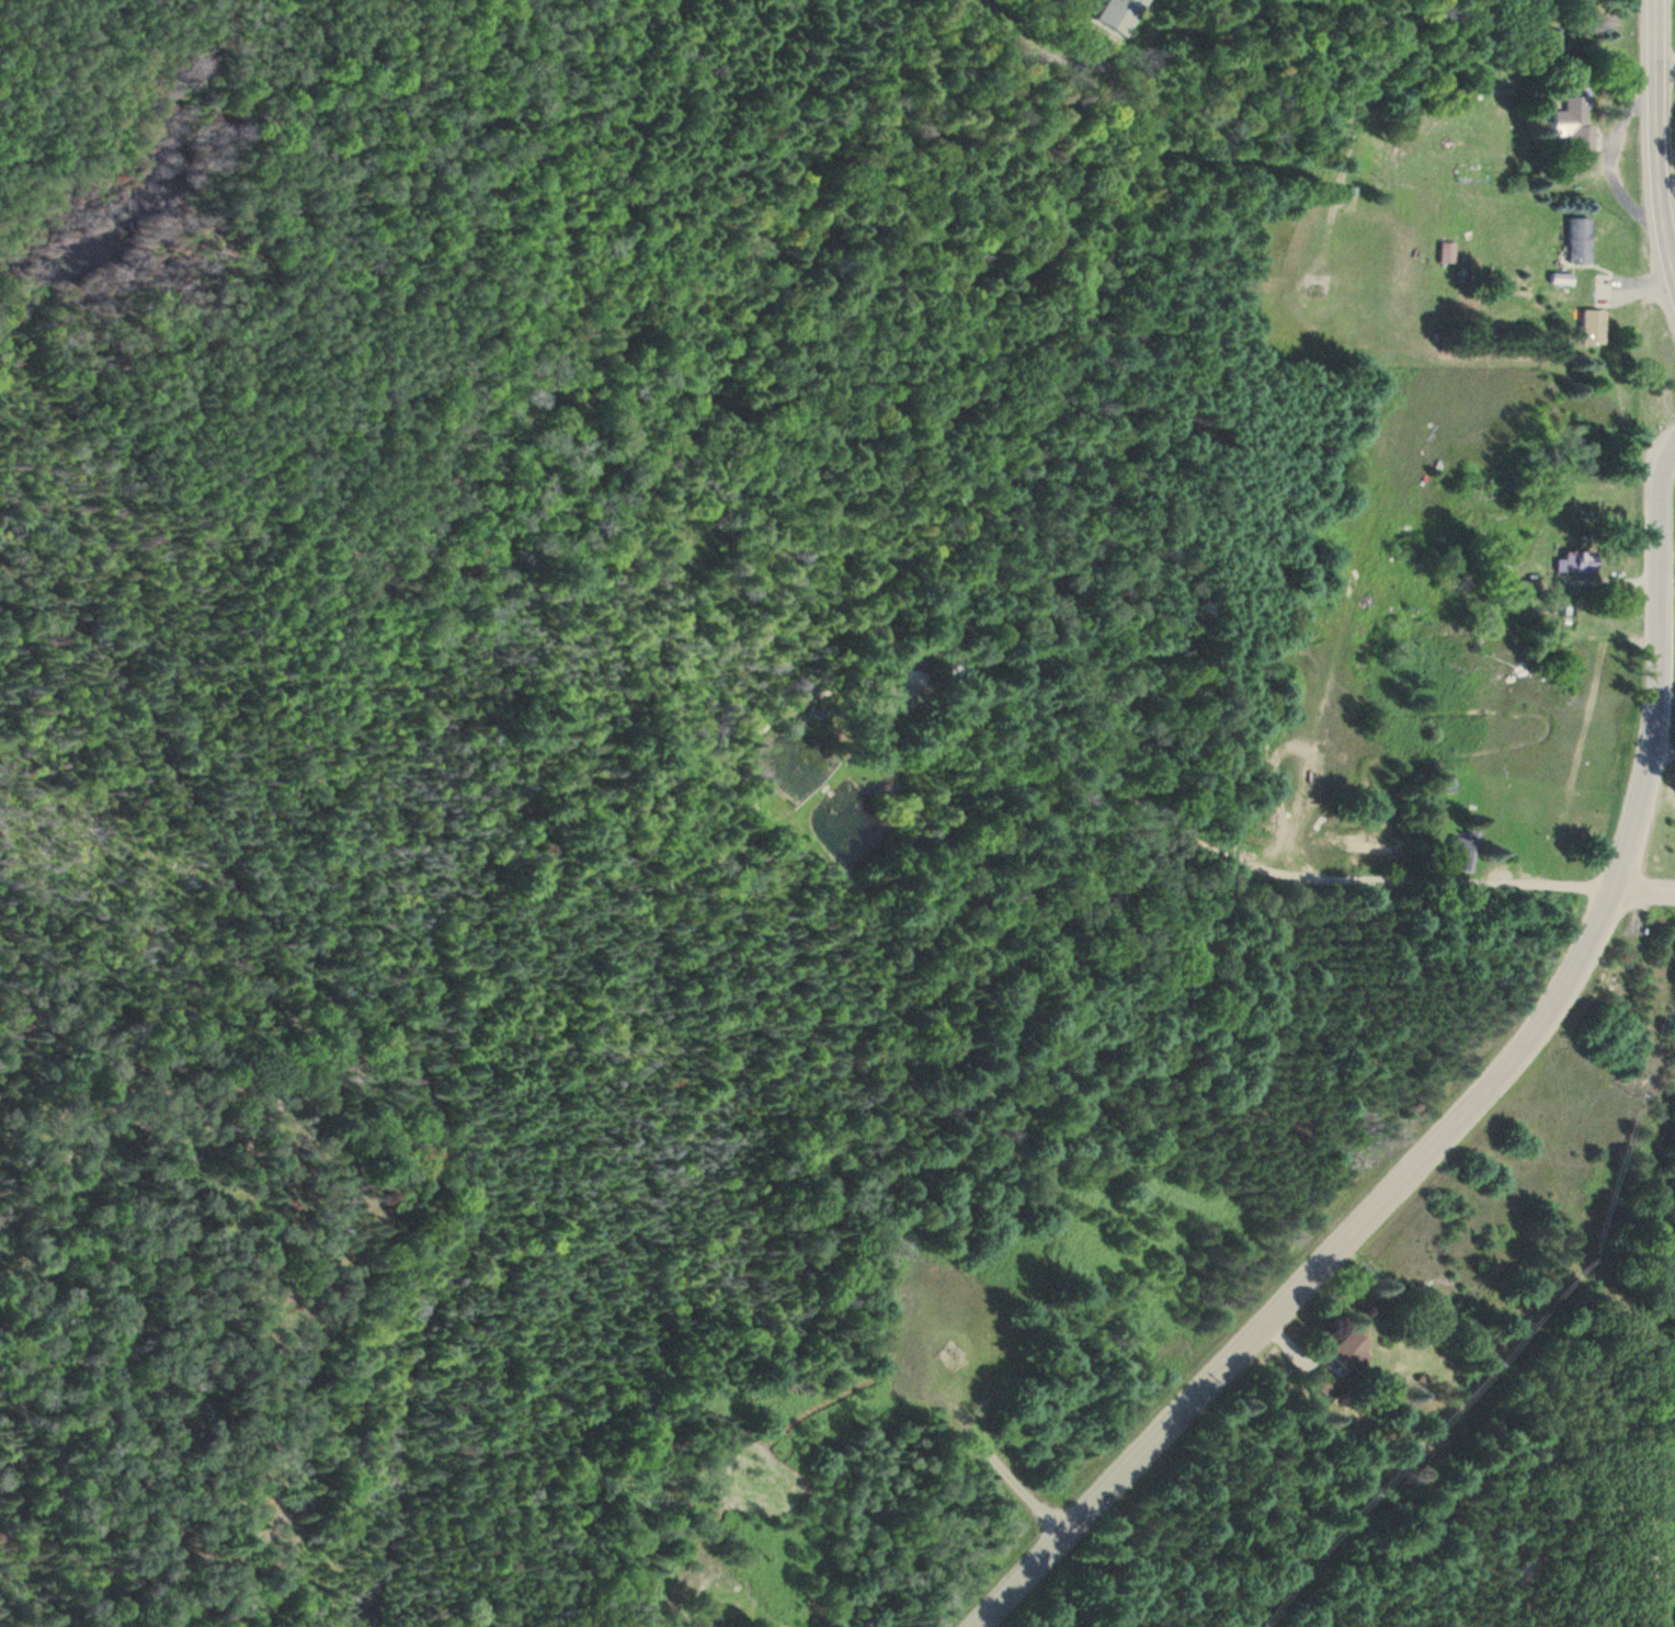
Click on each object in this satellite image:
road: (1108, 56)
building: (1574, 125)
road: (1657, 136)
building: (1579, 241)
building: (1592, 328)
building: (1569, 562)
building: (1515, 593)
building: (882, 708)
building: (1458, 849)
road: (1228, 864)
road: (1646, 894)
road: (1473, 1106)
building: (1348, 1354)
building: (1324, 1381)
road: (1660, 1516)

